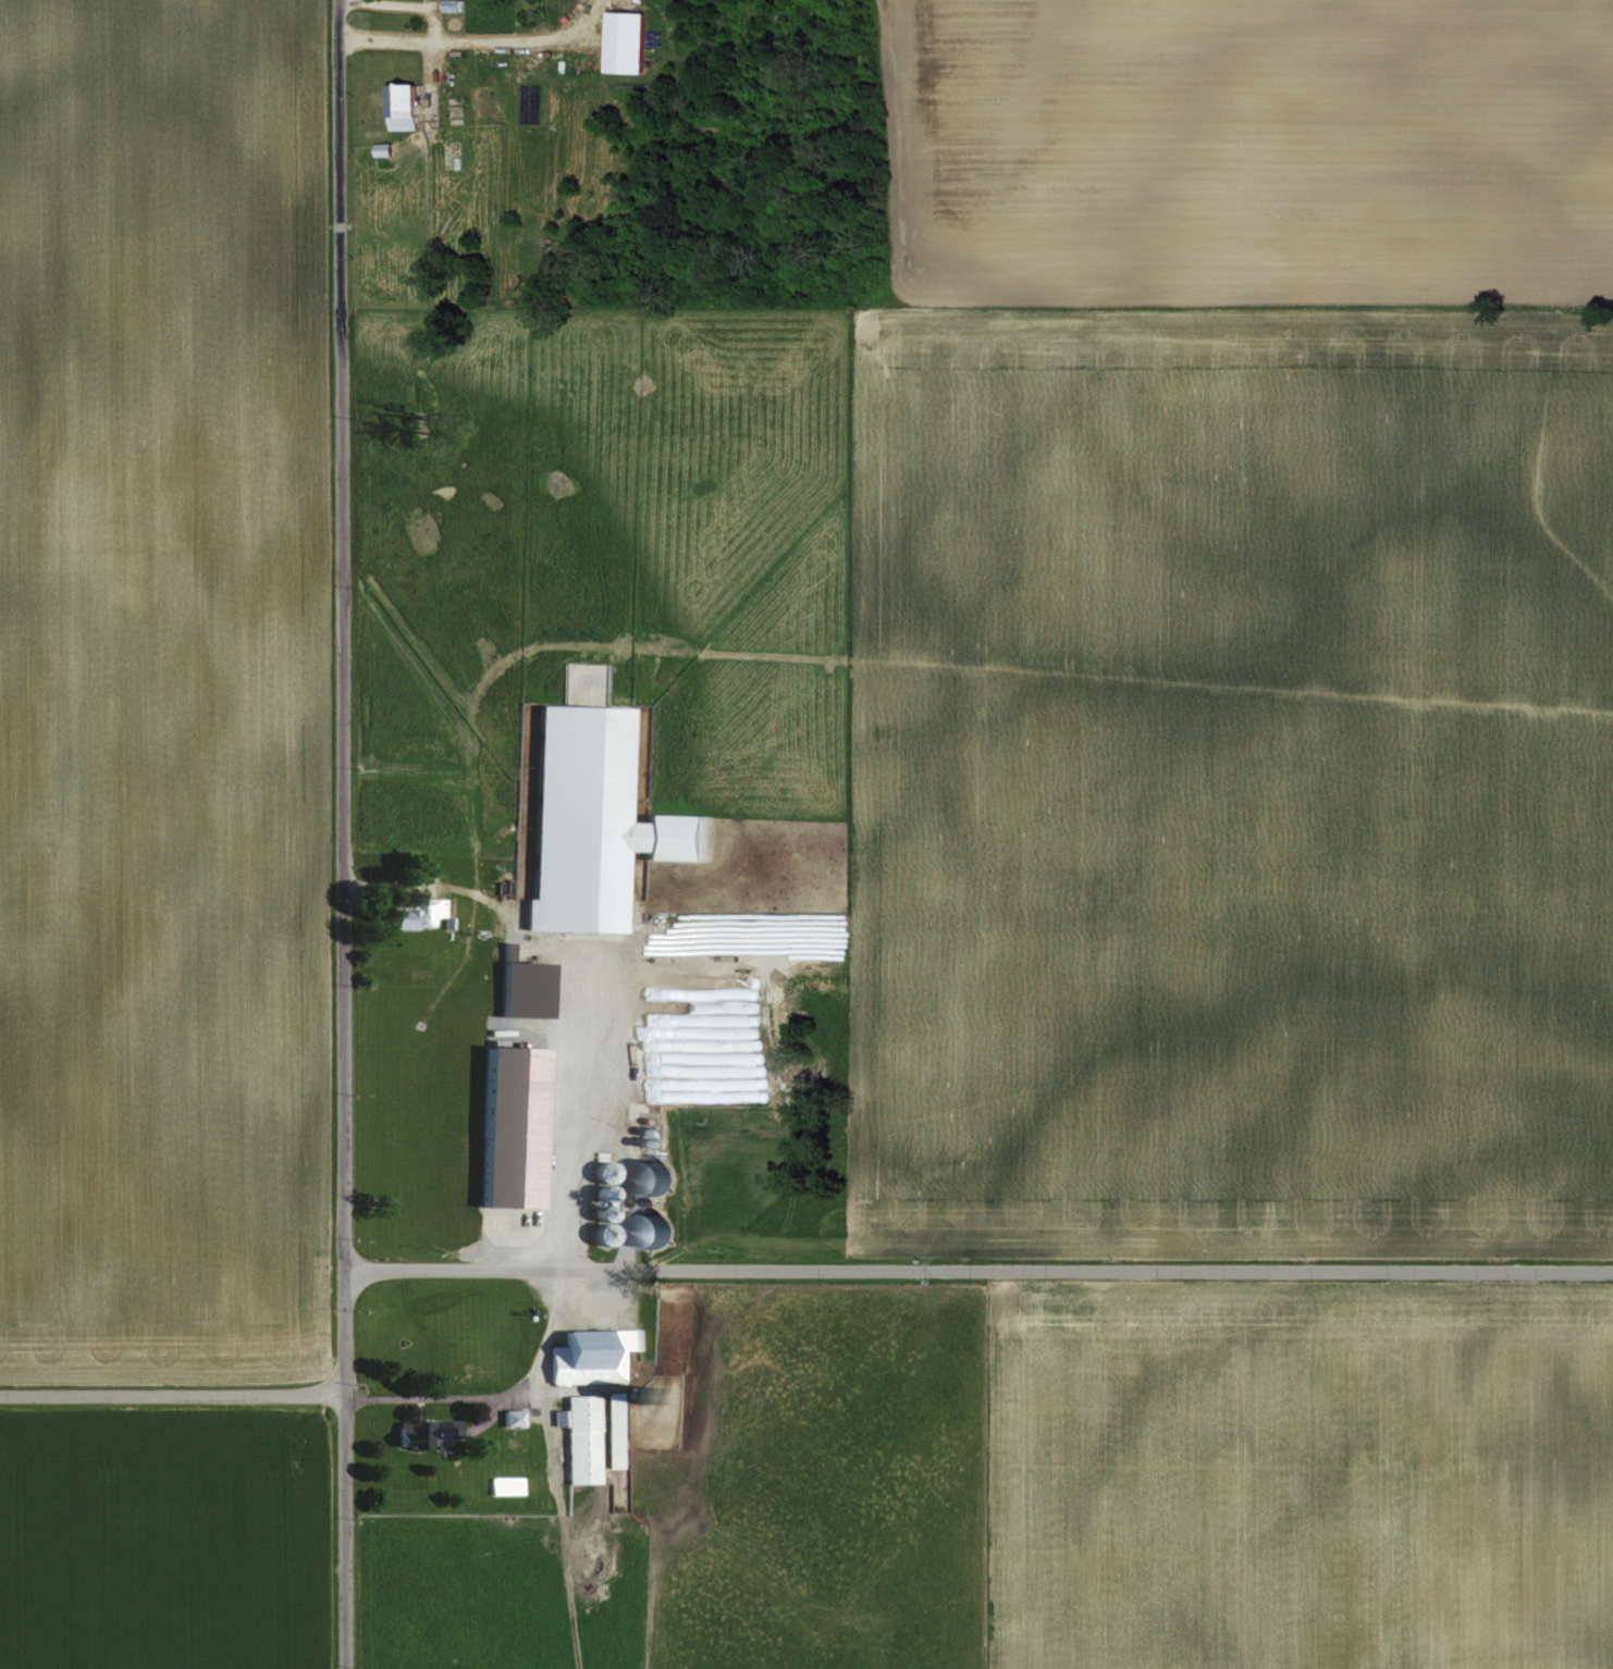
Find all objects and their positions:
road: (403, 3)
road: (468, 39)
building: (621, 41)
building: (397, 106)
road: (338, 630)
building: (587, 819)
building: (414, 912)
building: (515, 987)
building: (507, 1124)
road: (571, 1231)
road: (978, 1269)
road: (344, 1323)
building: (586, 1355)
road: (172, 1396)
building: (577, 1436)
building: (502, 1484)
road: (342, 1526)

